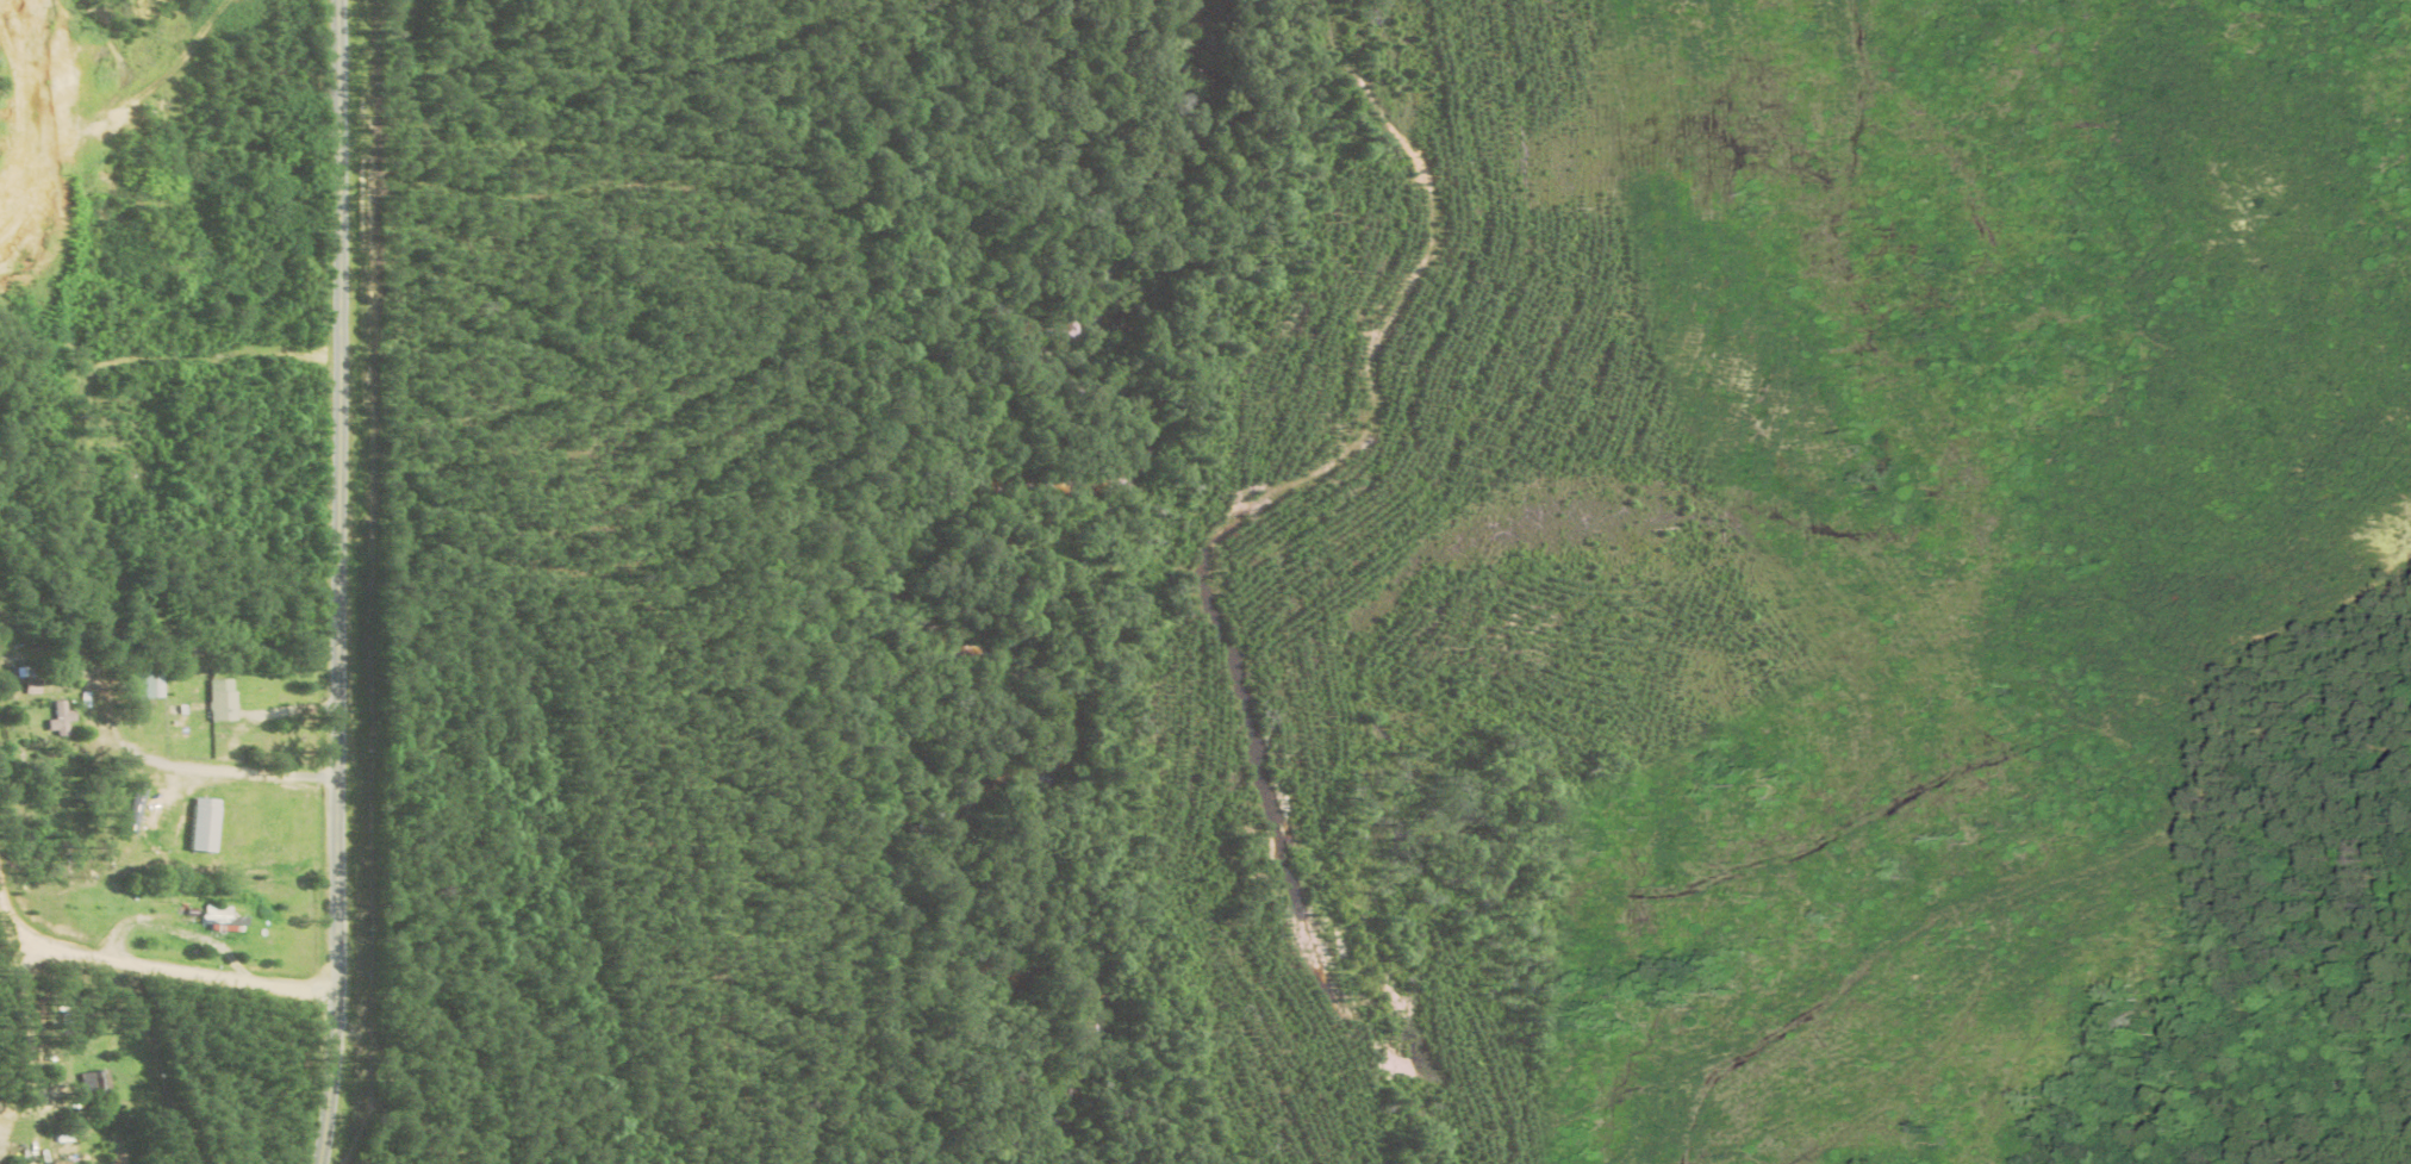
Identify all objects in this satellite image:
road: (335, 583)
building: (142, 685)
building: (217, 701)
building: (55, 720)
road: (219, 771)
building: (131, 808)
building: (198, 826)
building: (217, 915)
road: (156, 970)
building: (89, 1084)

